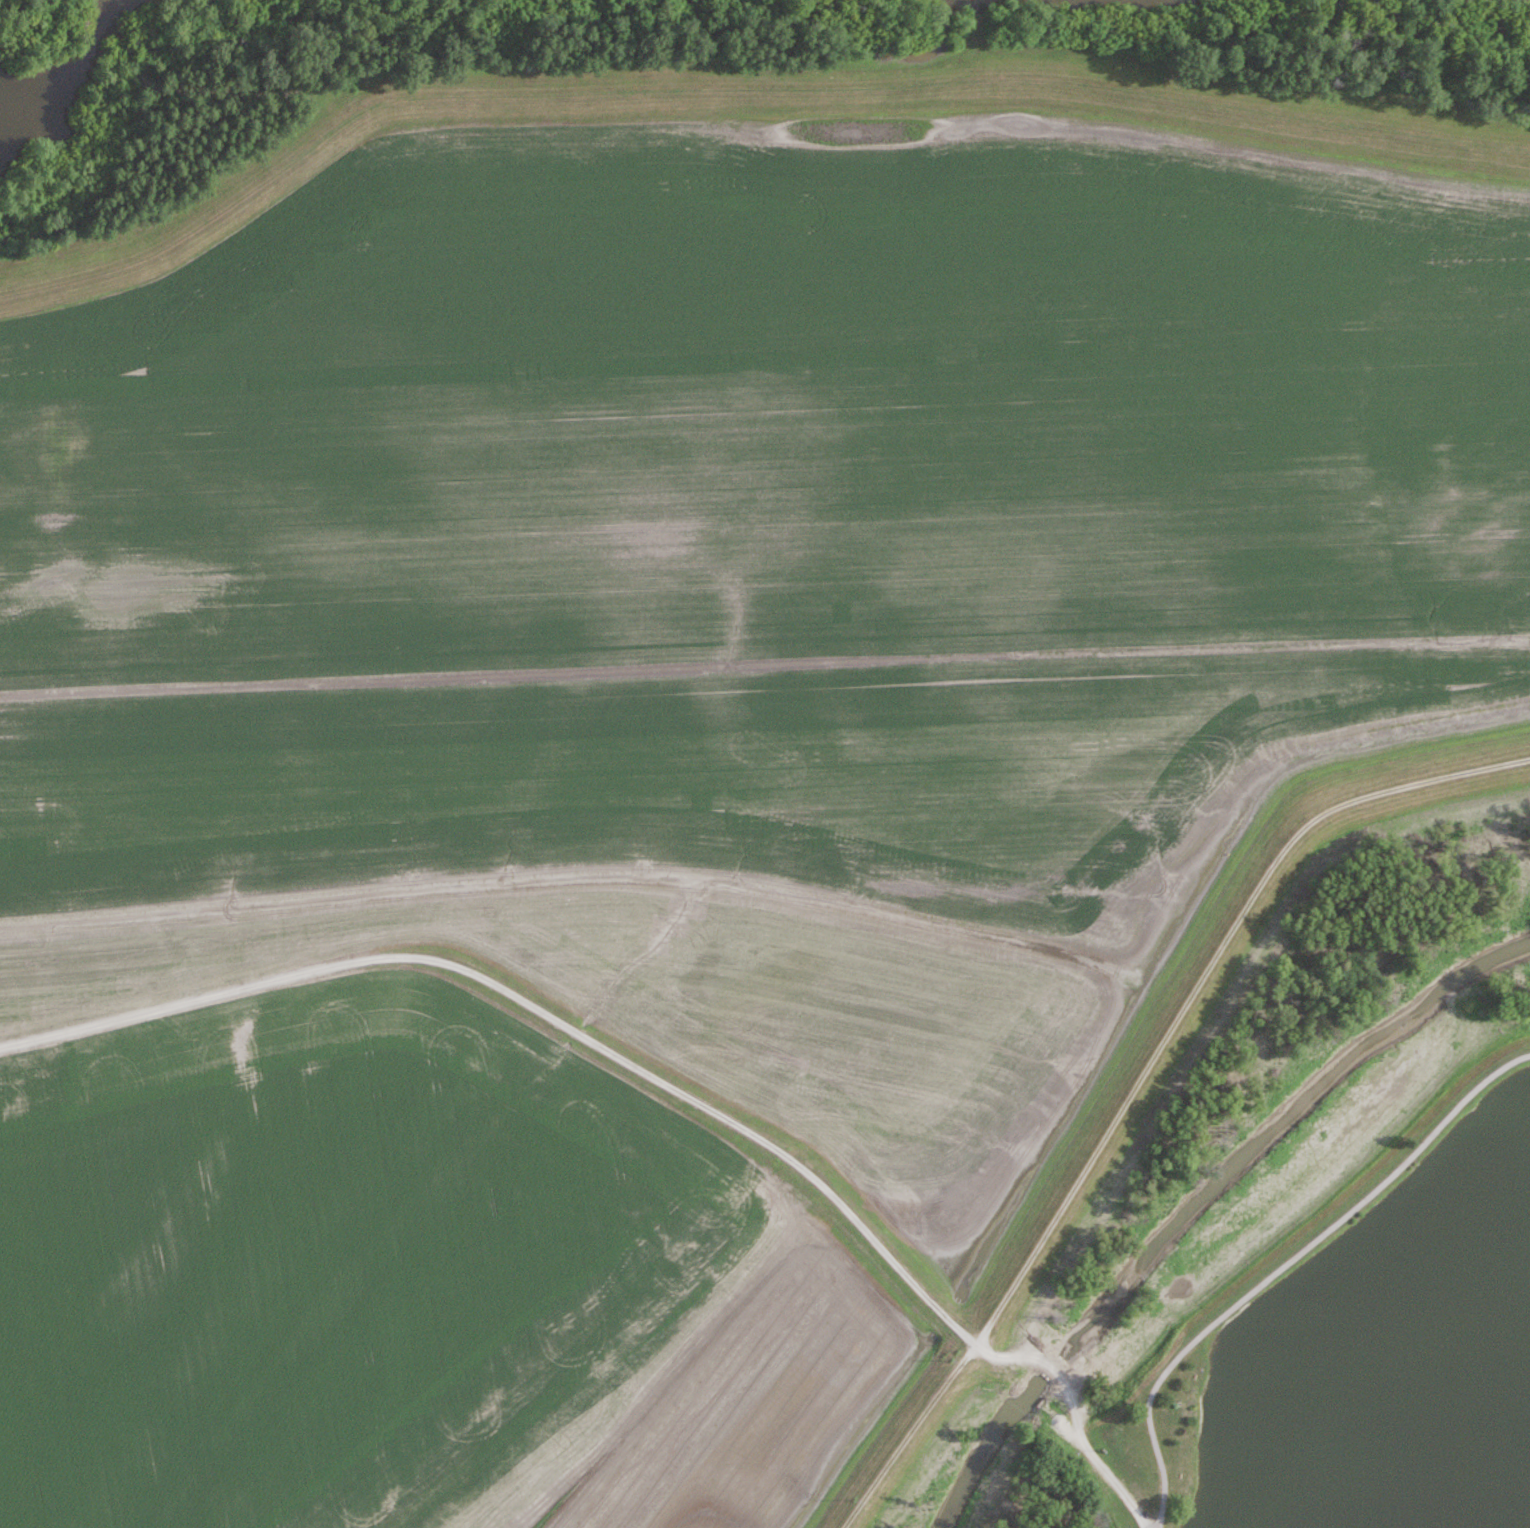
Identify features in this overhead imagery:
road: (554, 1016)
road: (1145, 1082)
road: (1282, 1264)
road: (1012, 1378)
road: (1027, 1391)
road: (1092, 1462)

